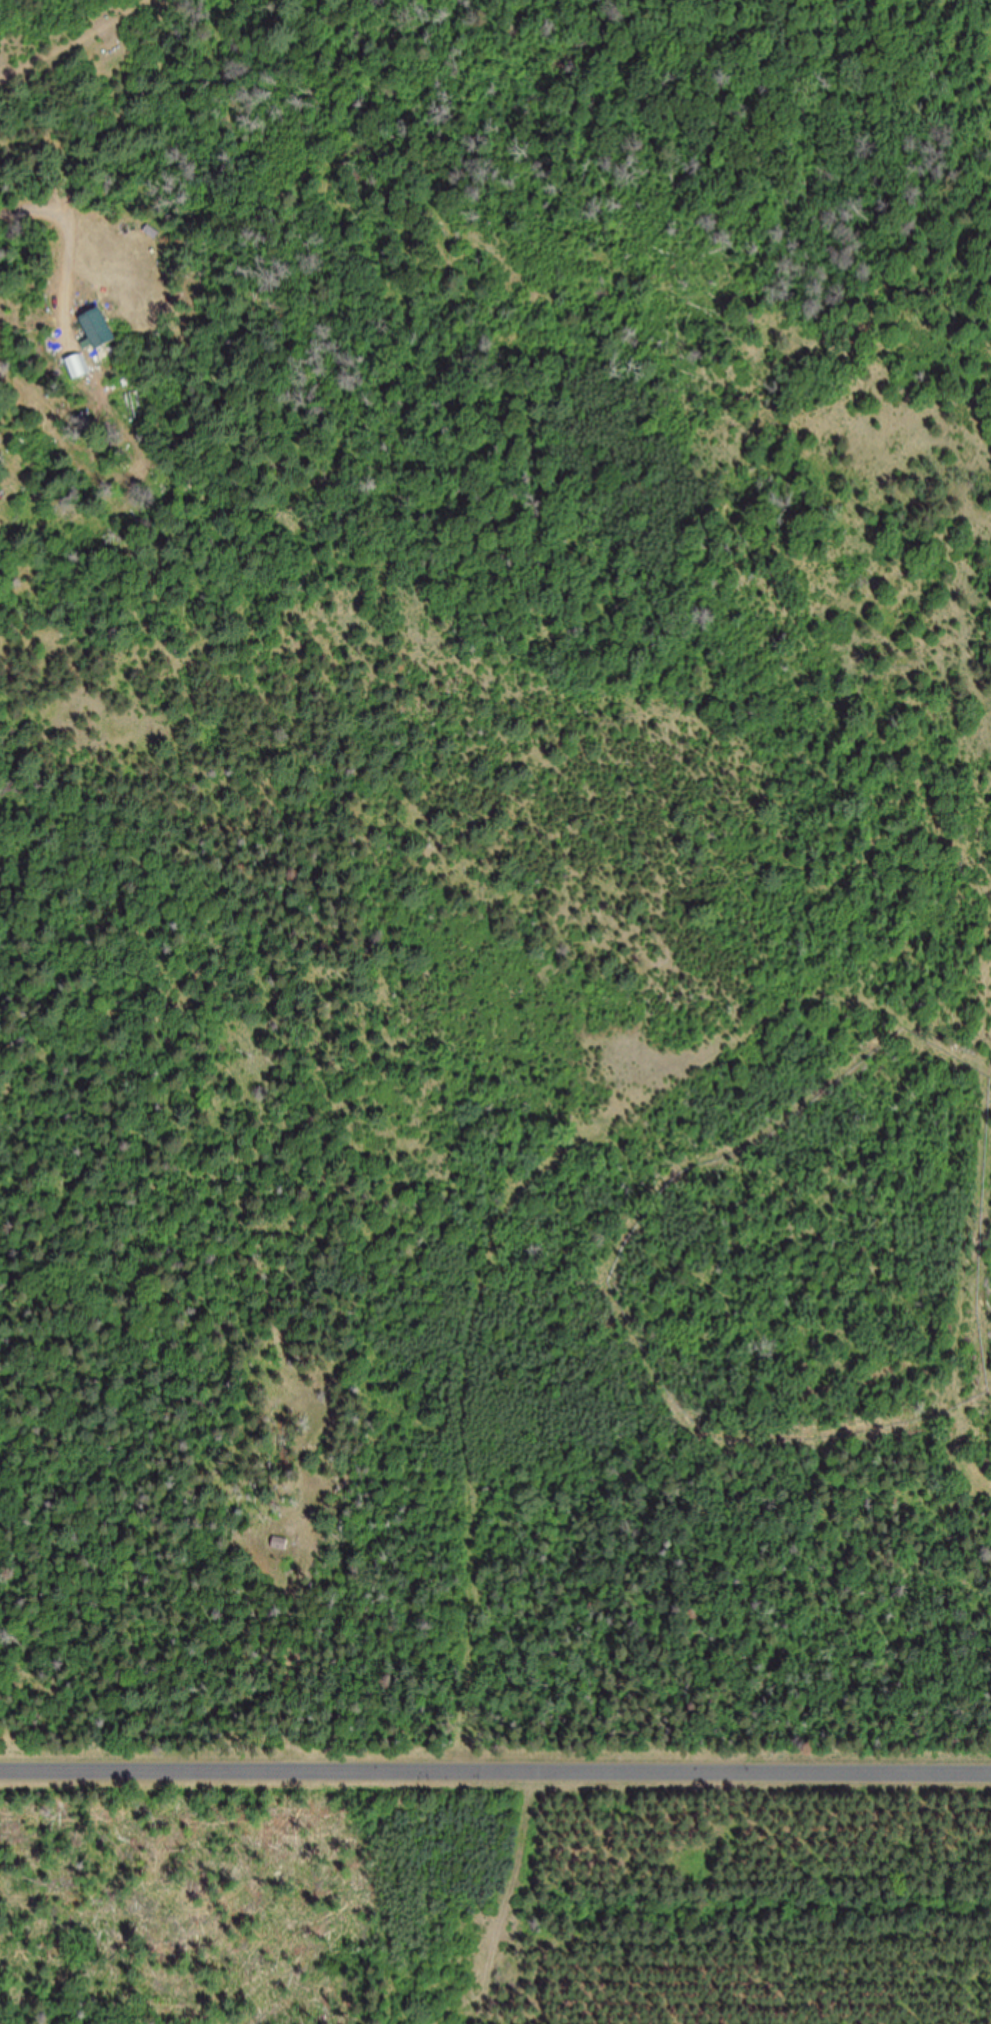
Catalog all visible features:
road: (30, 323)
building: (100, 327)
building: (281, 1543)
road: (495, 1756)
road: (516, 1896)

